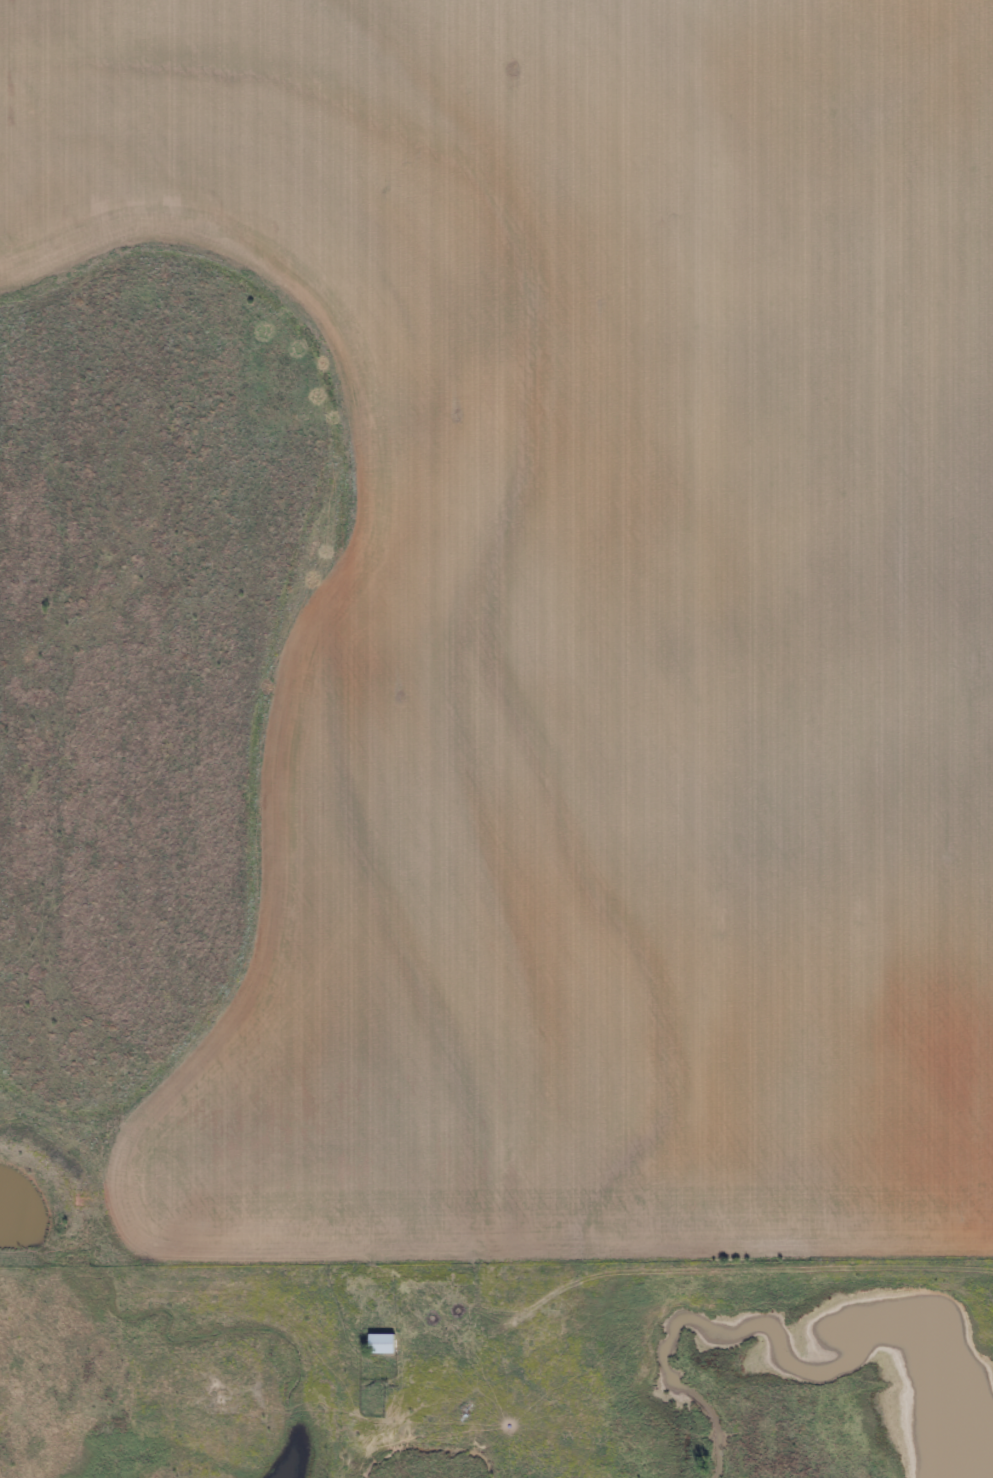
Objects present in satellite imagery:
building: (379, 1344)

